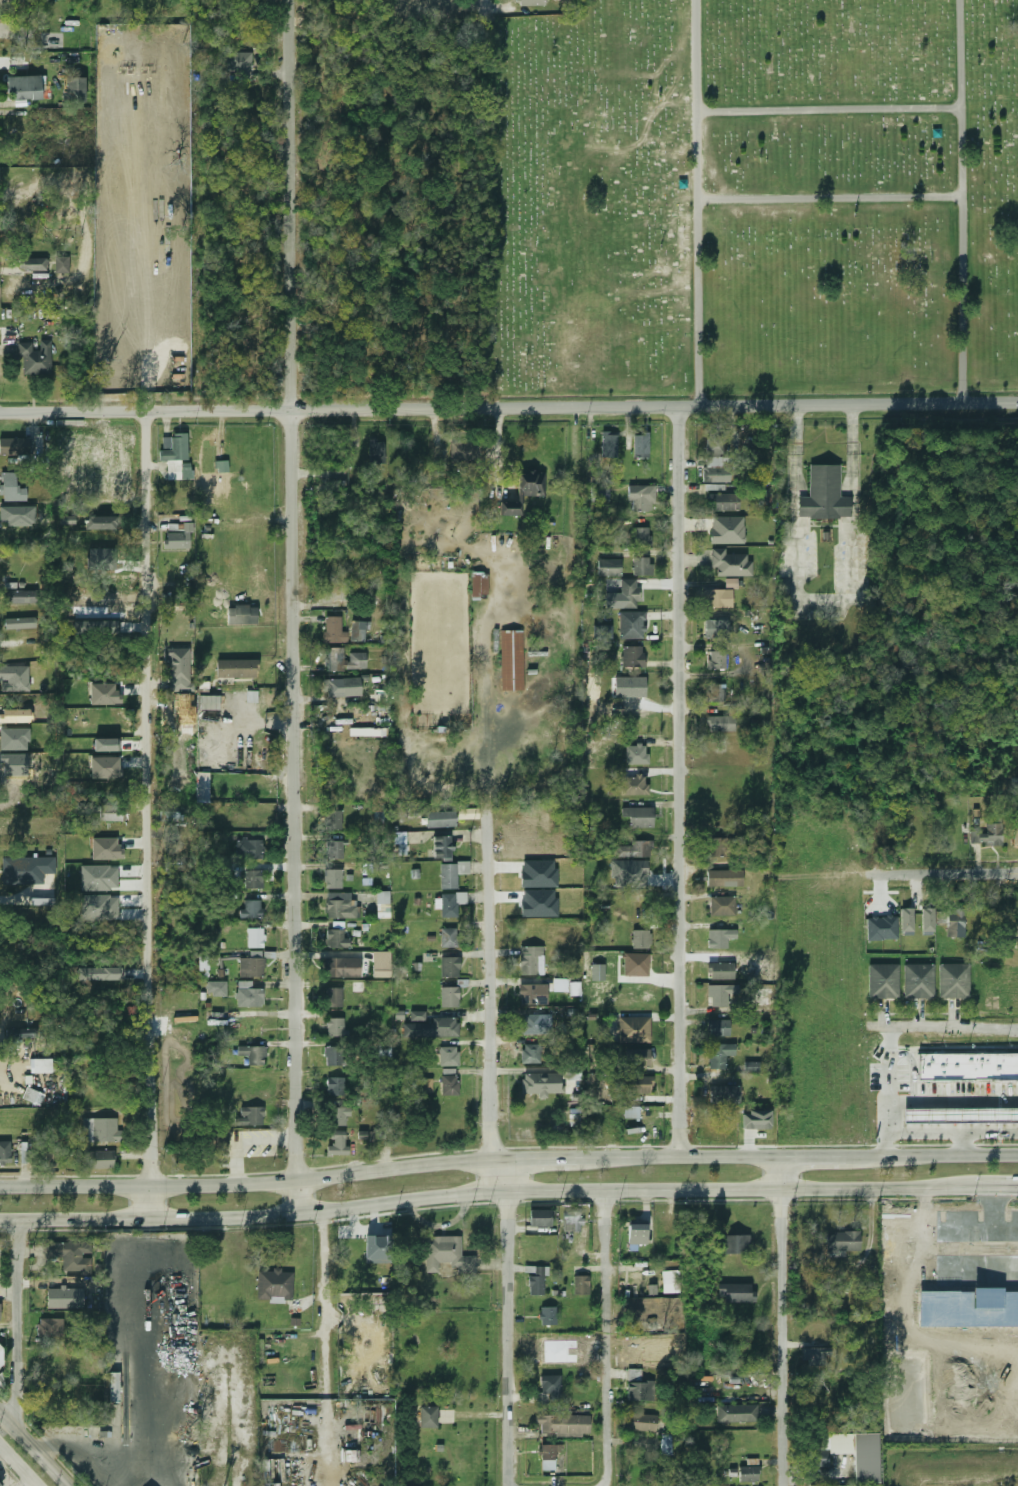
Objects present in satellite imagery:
building: (532, 2)
road: (479, 6)
building: (162, 48)
building: (239, 64)
building: (23, 88)
building: (74, 90)
road: (828, 109)
road: (828, 198)
park: (750, 199)
road: (961, 201)
road: (696, 203)
building: (35, 264)
building: (62, 264)
building: (36, 358)
road: (509, 408)
building: (715, 441)
building: (609, 444)
building: (15, 446)
building: (641, 446)
building: (377, 451)
building: (463, 452)
building: (176, 456)
building: (222, 466)
building: (717, 469)
building: (11, 488)
building: (525, 491)
building: (599, 495)
building: (824, 495)
building: (641, 497)
building: (725, 502)
building: (67, 520)
building: (101, 522)
building: (728, 530)
building: (641, 536)
building: (179, 538)
building: (730, 563)
building: (642, 566)
building: (609, 567)
building: (479, 583)
building: (731, 583)
building: (10, 585)
building: (629, 593)
building: (19, 596)
building: (719, 598)
road: (824, 601)
road: (289, 606)
building: (20, 622)
building: (632, 625)
building: (96, 627)
building: (131, 627)
building: (717, 629)
building: (334, 630)
building: (358, 631)
building: (357, 656)
building: (633, 656)
building: (512, 660)
building: (716, 660)
building: (236, 668)
building: (179, 669)
building: (14, 678)
building: (342, 687)
building: (638, 691)
building: (715, 692)
building: (105, 694)
building: (252, 696)
building: (208, 703)
building: (721, 723)
building: (366, 732)
building: (106, 744)
building: (638, 754)
building: (105, 767)
road: (681, 781)
building: (633, 785)
building: (203, 787)
building: (111, 812)
building: (468, 813)
road: (151, 815)
building: (1017, 815)
building: (171, 816)
building: (639, 817)
building: (334, 819)
building: (380, 819)
building: (441, 819)
building: (987, 836)
building: (1015, 837)
building: (400, 840)
building: (442, 847)
building: (718, 847)
building: (106, 849)
building: (249, 849)
building: (335, 849)
building: (634, 849)
building: (28, 870)
building: (539, 873)
building: (629, 873)
building: (452, 874)
road: (947, 874)
building: (725, 878)
building: (253, 879)
building: (333, 879)
building: (94, 881)
building: (539, 903)
building: (450, 904)
building: (381, 905)
building: (339, 906)
building: (721, 907)
building: (251, 909)
building: (100, 915)
building: (907, 921)
building: (928, 921)
building: (955, 923)
building: (882, 928)
building: (254, 938)
building: (336, 938)
building: (447, 938)
building: (640, 939)
building: (720, 939)
building: (530, 961)
building: (639, 962)
building: (203, 965)
building: (250, 967)
building: (332, 967)
building: (449, 967)
building: (381, 971)
building: (719, 971)
building: (598, 972)
building: (100, 973)
building: (882, 981)
building: (918, 981)
building: (953, 981)
road: (489, 986)
building: (215, 988)
building: (575, 988)
building: (247, 995)
building: (527, 995)
building: (333, 997)
building: (448, 997)
building: (717, 997)
building: (759, 997)
building: (417, 1016)
building: (530, 1024)
building: (334, 1027)
building: (434, 1028)
building: (717, 1028)
road: (944, 1029)
building: (640, 1030)
building: (19, 1034)
building: (529, 1053)
building: (251, 1055)
building: (718, 1055)
building: (334, 1056)
building: (447, 1057)
building: (636, 1058)
building: (41, 1065)
building: (752, 1066)
building: (968, 1066)
building: (541, 1083)
parking lot: (931, 1083)
building: (427, 1085)
building: (448, 1085)
building: (640, 1085)
building: (335, 1086)
building: (724, 1095)
building: (32, 1096)
road: (958, 1102)
road: (898, 1106)
building: (631, 1112)
building: (249, 1116)
building: (961, 1116)
gas station: (961, 1116)
building: (337, 1117)
building: (574, 1117)
building: (757, 1120)
building: (100, 1130)
road: (953, 1133)
building: (215, 1141)
building: (336, 1144)
road: (964, 1144)
building: (5, 1152)
road: (508, 1158)
building: (98, 1160)
road: (500, 1175)
road: (990, 1189)
road: (480, 1191)
building: (539, 1218)
building: (572, 1222)
building: (636, 1234)
building: (841, 1243)
building: (734, 1245)
building: (377, 1249)
building: (446, 1254)
building: (71, 1255)
building: (538, 1280)
building: (670, 1281)
building: (273, 1286)
building: (580, 1286)
building: (71, 1289)
building: (652, 1289)
building: (735, 1293)
building: (547, 1316)
road: (785, 1320)
road: (15, 1324)
building: (49, 1328)
road: (509, 1338)
road: (608, 1338)
road: (324, 1348)
building: (815, 1355)
building: (2, 1356)
building: (58, 1361)
building: (1, 1384)
building: (113, 1387)
building: (549, 1389)
building: (639, 1391)
building: (735, 1413)
building: (426, 1417)
building: (639, 1422)
building: (562, 1426)
building: (664, 1444)
road: (34, 1449)
building: (550, 1452)
road: (73, 1453)
building: (864, 1458)
building: (817, 1459)
road: (17, 1468)
building: (747, 1474)
building: (0, 1485)

